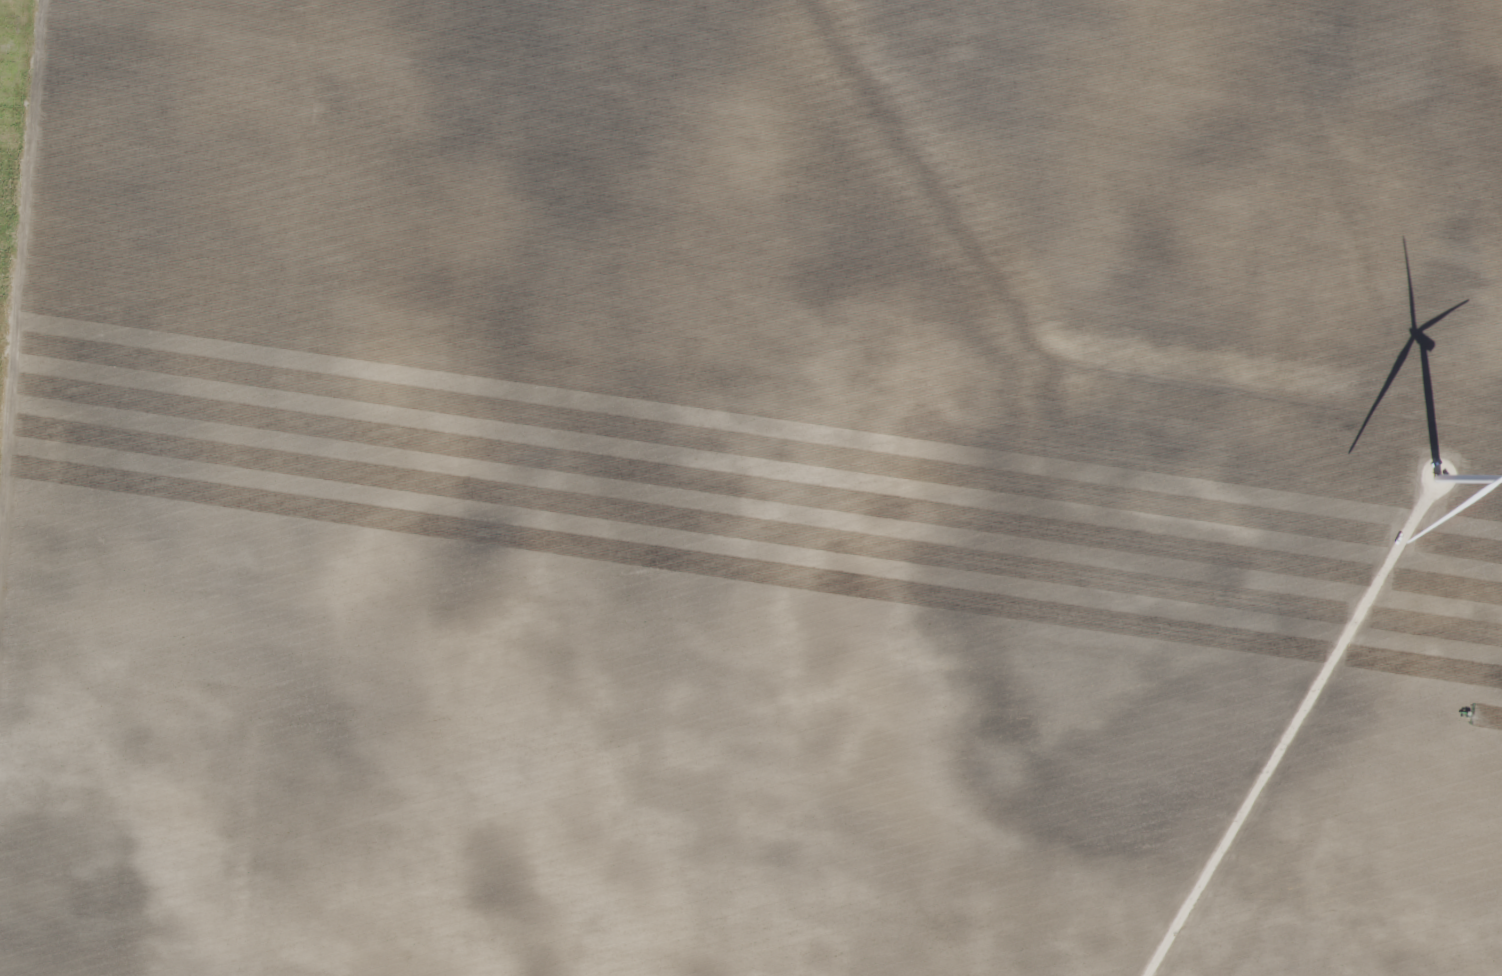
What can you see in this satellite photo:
wind turbine: (1436, 478)

